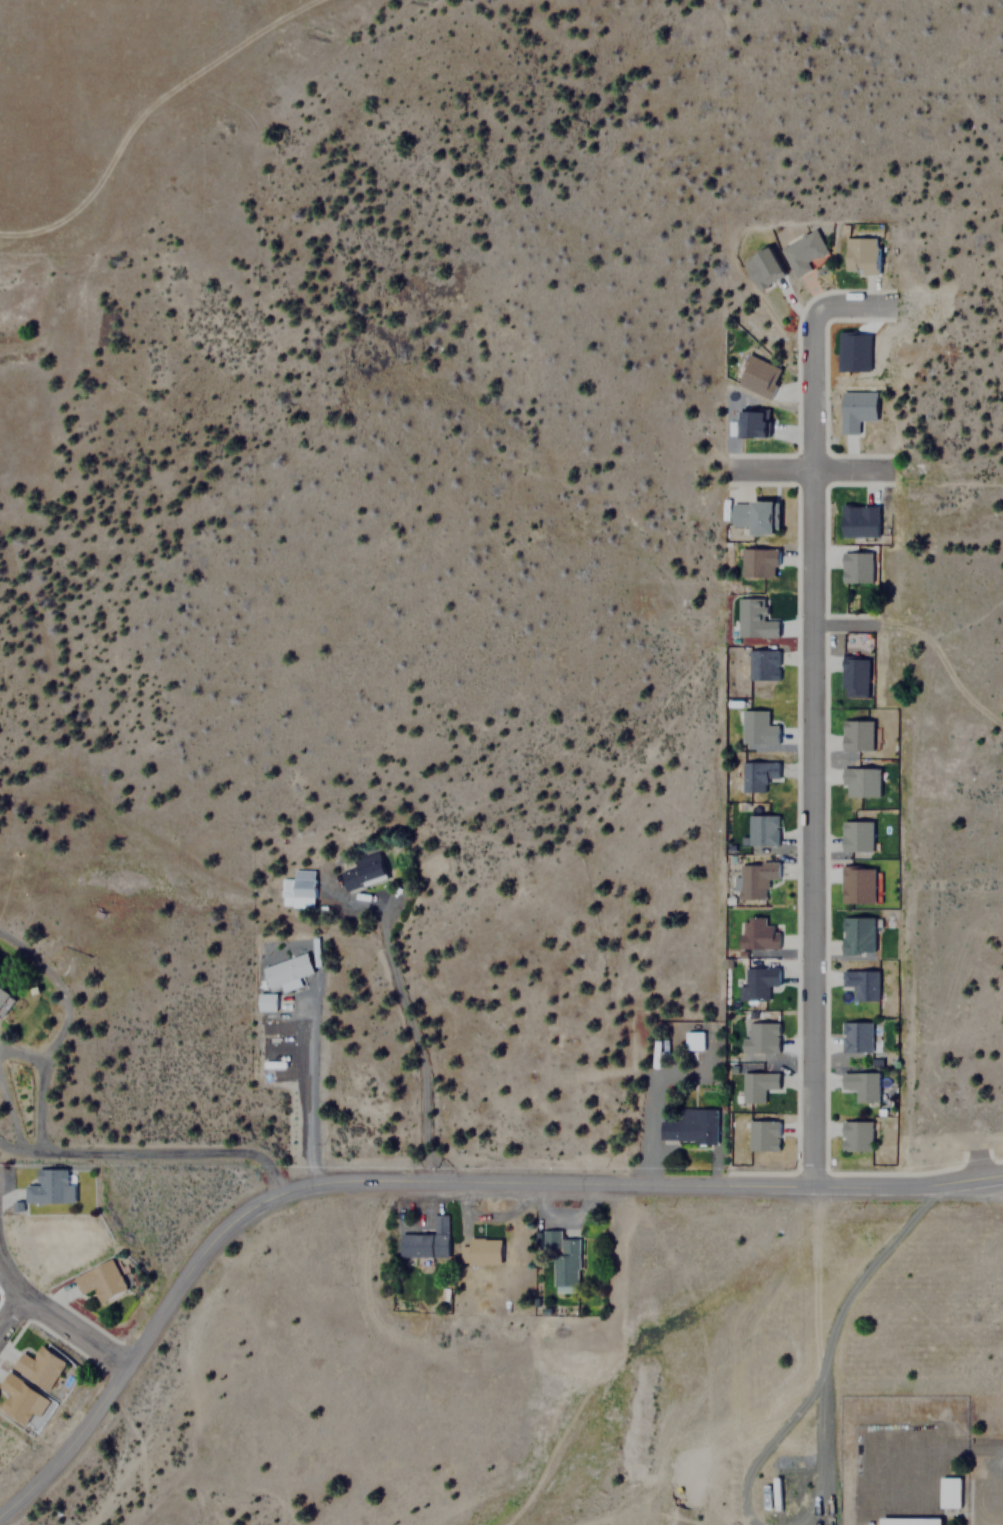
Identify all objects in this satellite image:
building: (813, 251)
building: (870, 253)
building: (771, 269)
building: (855, 352)
building: (765, 372)
building: (861, 403)
building: (759, 423)
road: (808, 469)
building: (763, 516)
building: (863, 518)
building: (761, 559)
building: (862, 567)
building: (758, 617)
building: (765, 660)
building: (860, 673)
road: (812, 711)
building: (760, 726)
building: (860, 730)
building: (762, 747)
building: (759, 771)
building: (864, 777)
building: (763, 826)
building: (859, 832)
building: (361, 872)
building: (758, 876)
building: (862, 883)
building: (297, 888)
building: (861, 929)
building: (759, 933)
building: (285, 970)
building: (761, 978)
building: (865, 979)
building: (3, 994)
building: (264, 1001)
building: (860, 1033)
building: (697, 1036)
building: (763, 1036)
building: (761, 1081)
building: (864, 1081)
building: (692, 1124)
building: (764, 1130)
building: (860, 1131)
road: (151, 1151)
road: (423, 1183)
building: (46, 1185)
building: (426, 1240)
building: (480, 1251)
building: (560, 1257)
building: (98, 1279)
road: (12, 1312)
road: (58, 1319)
building: (38, 1366)
building: (20, 1399)
building: (947, 1492)
building: (907, 1521)

